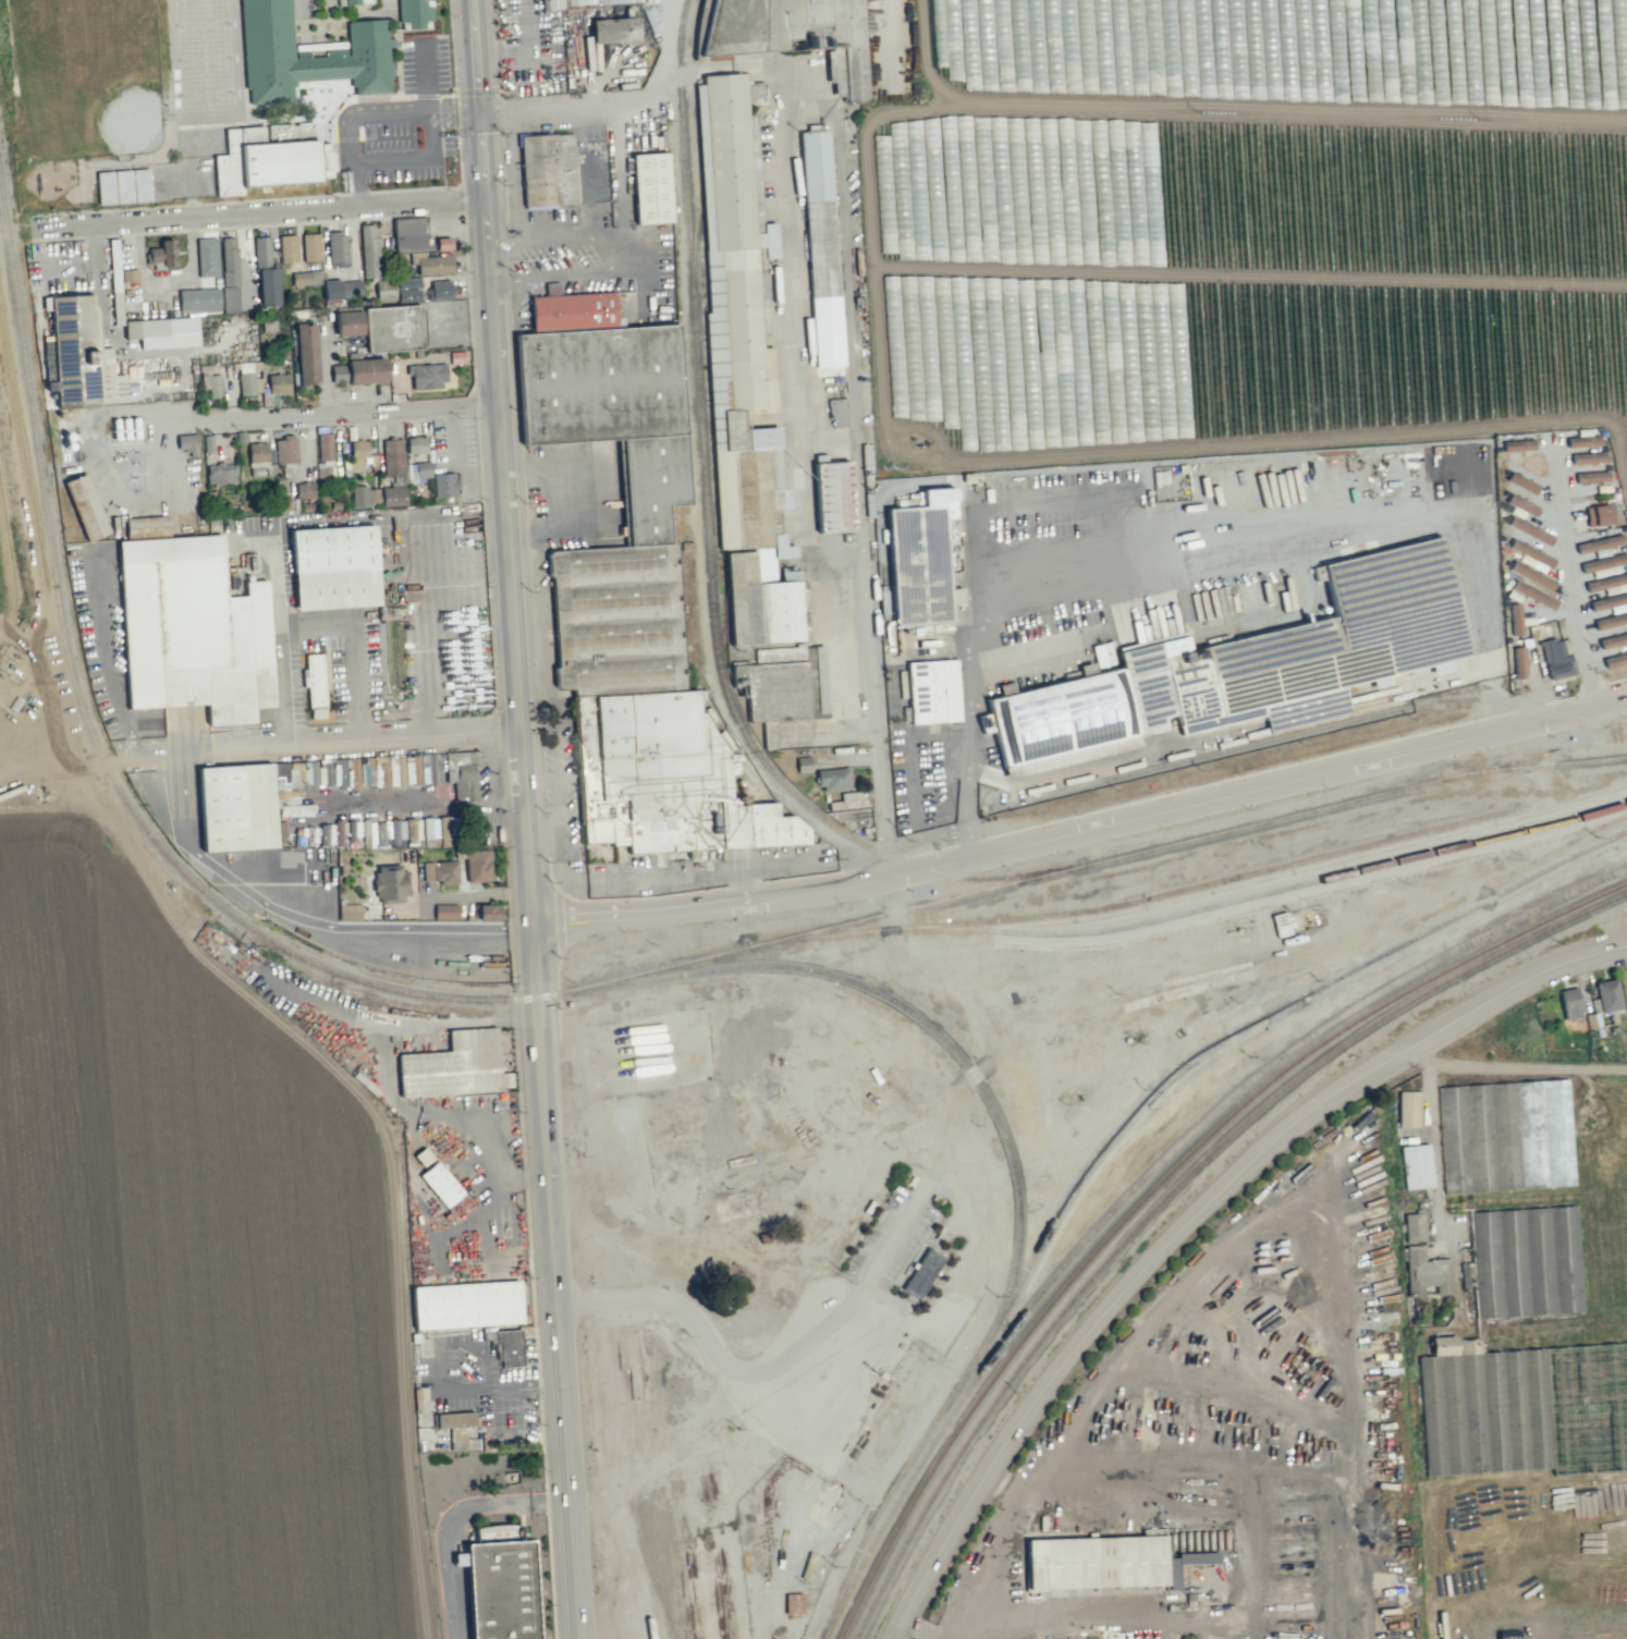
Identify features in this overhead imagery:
park: (196, 2)
building: (353, 3)
building: (560, 7)
building: (414, 14)
park: (200, 23)
building: (613, 29)
building: (788, 32)
building: (305, 58)
park: (203, 59)
park: (91, 76)
road: (425, 79)
park: (205, 94)
road: (614, 105)
traffic signals: (484, 113)
road: (365, 117)
road: (417, 157)
building: (276, 164)
building: (548, 171)
building: (140, 184)
building: (122, 186)
building: (105, 187)
building: (649, 189)
road: (259, 215)
crop: (1251, 225)
building: (409, 234)
building: (309, 246)
building: (822, 247)
building: (286, 248)
building: (337, 249)
building: (368, 250)
building: (261, 252)
road: (621, 252)
building: (162, 253)
building: (206, 256)
building: (430, 264)
building: (229, 274)
building: (306, 278)
building: (267, 286)
building: (341, 289)
building: (383, 289)
building: (407, 289)
building: (439, 290)
building: (198, 299)
building: (347, 322)
building: (392, 328)
building: (162, 332)
building: (79, 354)
building: (306, 354)
building: (358, 371)
building: (426, 376)
building: (278, 383)
building: (836, 412)
road: (337, 415)
building: (124, 428)
building: (758, 431)
building: (186, 442)
building: (415, 444)
building: (1517, 444)
building: (323, 445)
building: (284, 450)
building: (256, 452)
building: (359, 454)
building: (1587, 457)
building: (400, 461)
road: (505, 461)
building: (221, 473)
building: (1590, 477)
building: (1520, 482)
building: (443, 485)
building: (304, 490)
road: (868, 492)
building: (363, 496)
building: (393, 496)
building: (832, 499)
building: (283, 503)
building: (1520, 504)
building: (85, 506)
building: (1599, 514)
building: (146, 526)
building: (1529, 530)
road: (1142, 547)
railway: (708, 553)
building: (1531, 555)
building: (1603, 563)
road: (1059, 564)
building: (920, 567)
building: (334, 570)
building: (1531, 575)
road: (1570, 578)
crop: (2, 584)
building: (1532, 595)
building: (637, 597)
building: (1610, 602)
building: (1515, 619)
building: (1611, 621)
building: (193, 632)
building: (1613, 640)
building: (1101, 655)
building: (1556, 659)
building: (1615, 660)
building: (1518, 662)
building: (1258, 665)
building: (313, 680)
building: (933, 692)
railway: (1321, 727)
railway: (96, 743)
road: (314, 749)
railway: (1551, 754)
building: (803, 763)
railway: (1551, 765)
road: (50, 770)
building: (832, 779)
road: (430, 805)
building: (235, 808)
building: (353, 829)
building: (421, 830)
road: (1085, 830)
building: (389, 831)
building: (443, 831)
building: (339, 832)
building: (326, 834)
building: (477, 865)
building: (439, 871)
railway: (1024, 881)
building: (390, 884)
railway: (1277, 889)
railway: (1151, 896)
building: (444, 910)
building: (348, 912)
building: (488, 912)
railway: (565, 992)
road: (1092, 993)
building: (1607, 995)
building: (1569, 1003)
railway: (912, 1013)
railway: (1258, 1019)
building: (451, 1068)
road: (1517, 1068)
building: (1408, 1108)
building: (1505, 1135)
road: (1032, 1139)
building: (421, 1157)
building: (1416, 1166)
railway: (1148, 1172)
railway: (818, 1181)
railway: (1158, 1182)
building: (440, 1184)
railway: (1171, 1191)
road: (1194, 1221)
building: (1414, 1227)
road: (895, 1233)
parking lot: (889, 1240)
building: (1526, 1261)
building: (1424, 1272)
building: (921, 1273)
road: (552, 1280)
crop: (188, 1289)
building: (468, 1306)
building: (509, 1346)
road: (715, 1354)
crop: (1532, 1360)
road: (494, 1386)
building: (892, 1408)
building: (1482, 1408)
building: (453, 1419)
railway: (897, 1477)
road: (451, 1519)
railway: (635, 1531)
railway: (672, 1557)
building: (1094, 1564)
building: (1173, 1576)
building: (499, 1591)
building: (793, 1603)

